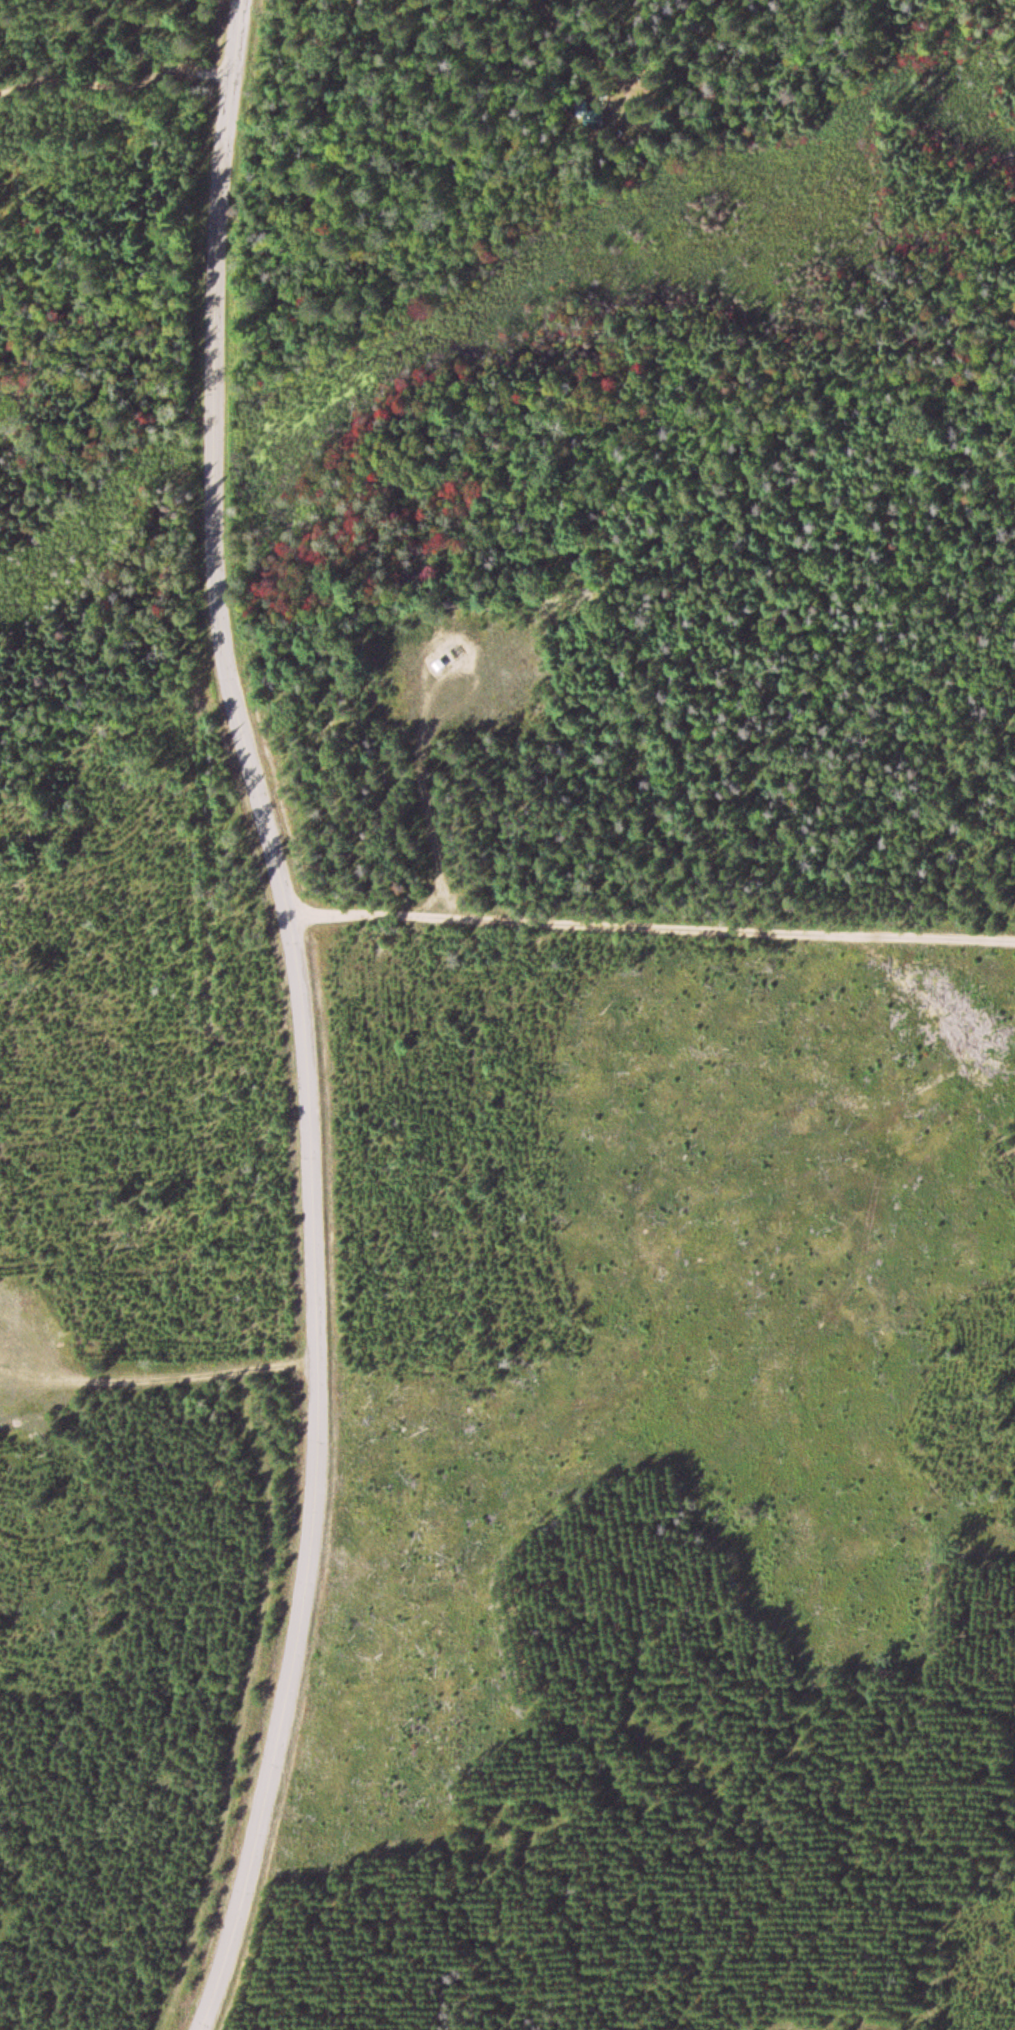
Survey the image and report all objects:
road: (292, 57)
road: (534, 61)
road: (116, 71)
building: (593, 119)
petroleum well: (453, 649)
road: (652, 928)
road: (305, 1016)

